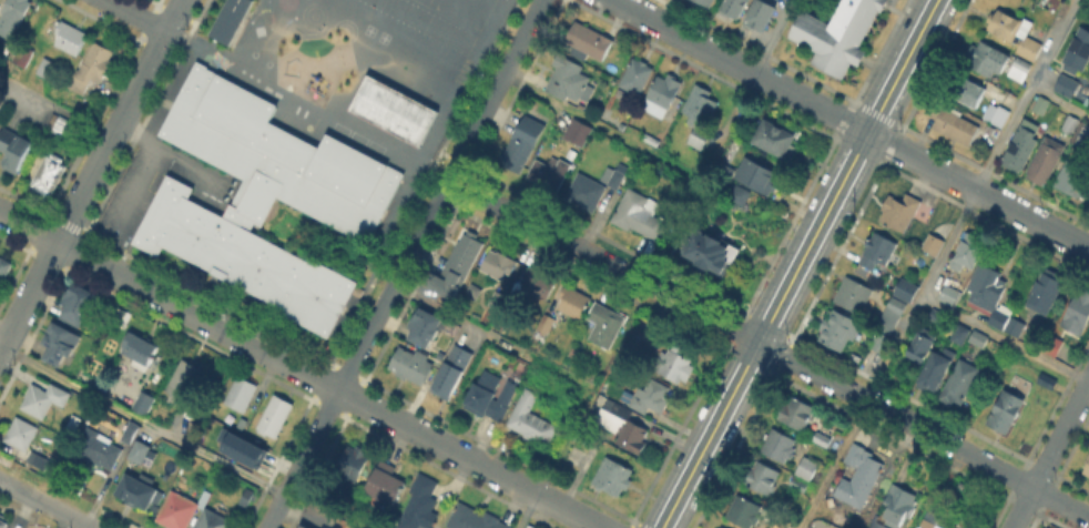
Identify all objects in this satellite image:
building: (708, 2)
building: (734, 8)
building: (760, 14)
building: (13, 16)
road: (135, 16)
building: (228, 20)
park: (367, 29)
building: (1015, 31)
park: (380, 35)
building: (837, 35)
building: (71, 38)
road: (174, 39)
building: (589, 41)
road: (1054, 42)
building: (1079, 49)
park: (252, 52)
building: (26, 58)
building: (989, 58)
park: (265, 62)
building: (92, 67)
building: (47, 69)
building: (1020, 69)
road: (357, 73)
building: (637, 75)
building: (571, 80)
building: (1066, 84)
road: (746, 89)
building: (970, 92)
building: (662, 95)
road: (1060, 99)
building: (1040, 102)
building: (701, 105)
road: (55, 108)
building: (390, 108)
building: (997, 113)
road: (853, 123)
building: (954, 123)
building: (1071, 123)
road: (601, 126)
building: (63, 128)
park: (337, 130)
building: (579, 132)
road: (146, 135)
building: (1082, 135)
building: (700, 136)
building: (776, 136)
park: (354, 139)
building: (523, 143)
building: (1021, 145)
building: (14, 149)
park: (372, 149)
building: (1046, 161)
road: (189, 166)
building: (549, 173)
road: (91, 174)
building: (49, 176)
building: (614, 176)
building: (761, 176)
building: (1073, 180)
parking lot: (156, 185)
road: (131, 190)
road: (428, 192)
building: (587, 192)
building: (262, 196)
building: (902, 210)
building: (641, 215)
building: (934, 243)
building: (878, 250)
building: (711, 251)
building: (969, 251)
road: (800, 263)
road: (404, 264)
building: (498, 264)
building: (457, 265)
building: (4, 266)
building: (539, 283)
building: (907, 290)
building: (951, 292)
building: (1046, 292)
building: (854, 294)
building: (988, 294)
building: (74, 301)
building: (574, 301)
road: (915, 305)
building: (1079, 311)
building: (929, 318)
building: (547, 323)
building: (888, 323)
building: (604, 324)
building: (1014, 326)
building: (423, 328)
building: (839, 328)
building: (959, 334)
building: (979, 337)
road: (492, 338)
building: (57, 341)
road: (1005, 341)
building: (922, 346)
road: (767, 347)
building: (140, 351)
building: (98, 358)
building: (676, 364)
building: (411, 365)
building: (937, 368)
road: (299, 370)
building: (450, 373)
building: (183, 380)
building: (961, 380)
building: (1047, 380)
building: (243, 392)
building: (648, 393)
building: (490, 396)
building: (44, 398)
building: (142, 404)
building: (797, 409)
building: (1007, 410)
building: (276, 416)
building: (612, 416)
building: (531, 420)
building: (128, 430)
building: (20, 433)
building: (633, 435)
road: (172, 436)
building: (823, 439)
building: (780, 445)
building: (99, 449)
building: (136, 449)
road: (1049, 453)
building: (855, 454)
building: (250, 456)
road: (556, 458)
building: (40, 460)
building: (355, 461)
building: (807, 467)
building: (1087, 468)
building: (614, 476)
building: (763, 477)
building: (861, 481)
building: (798, 485)
building: (134, 487)
building: (385, 488)
road: (20, 491)
building: (248, 498)
building: (899, 504)
building: (420, 505)
building: (179, 510)
building: (741, 510)
road: (61, 514)
building: (474, 518)
building: (214, 519)
building: (3, 521)
building: (877, 525)
building: (299, 526)
building: (306, 526)
building: (937, 526)
road: (84, 527)
building: (531, 527)
building: (716, 527)
building: (721, 527)

